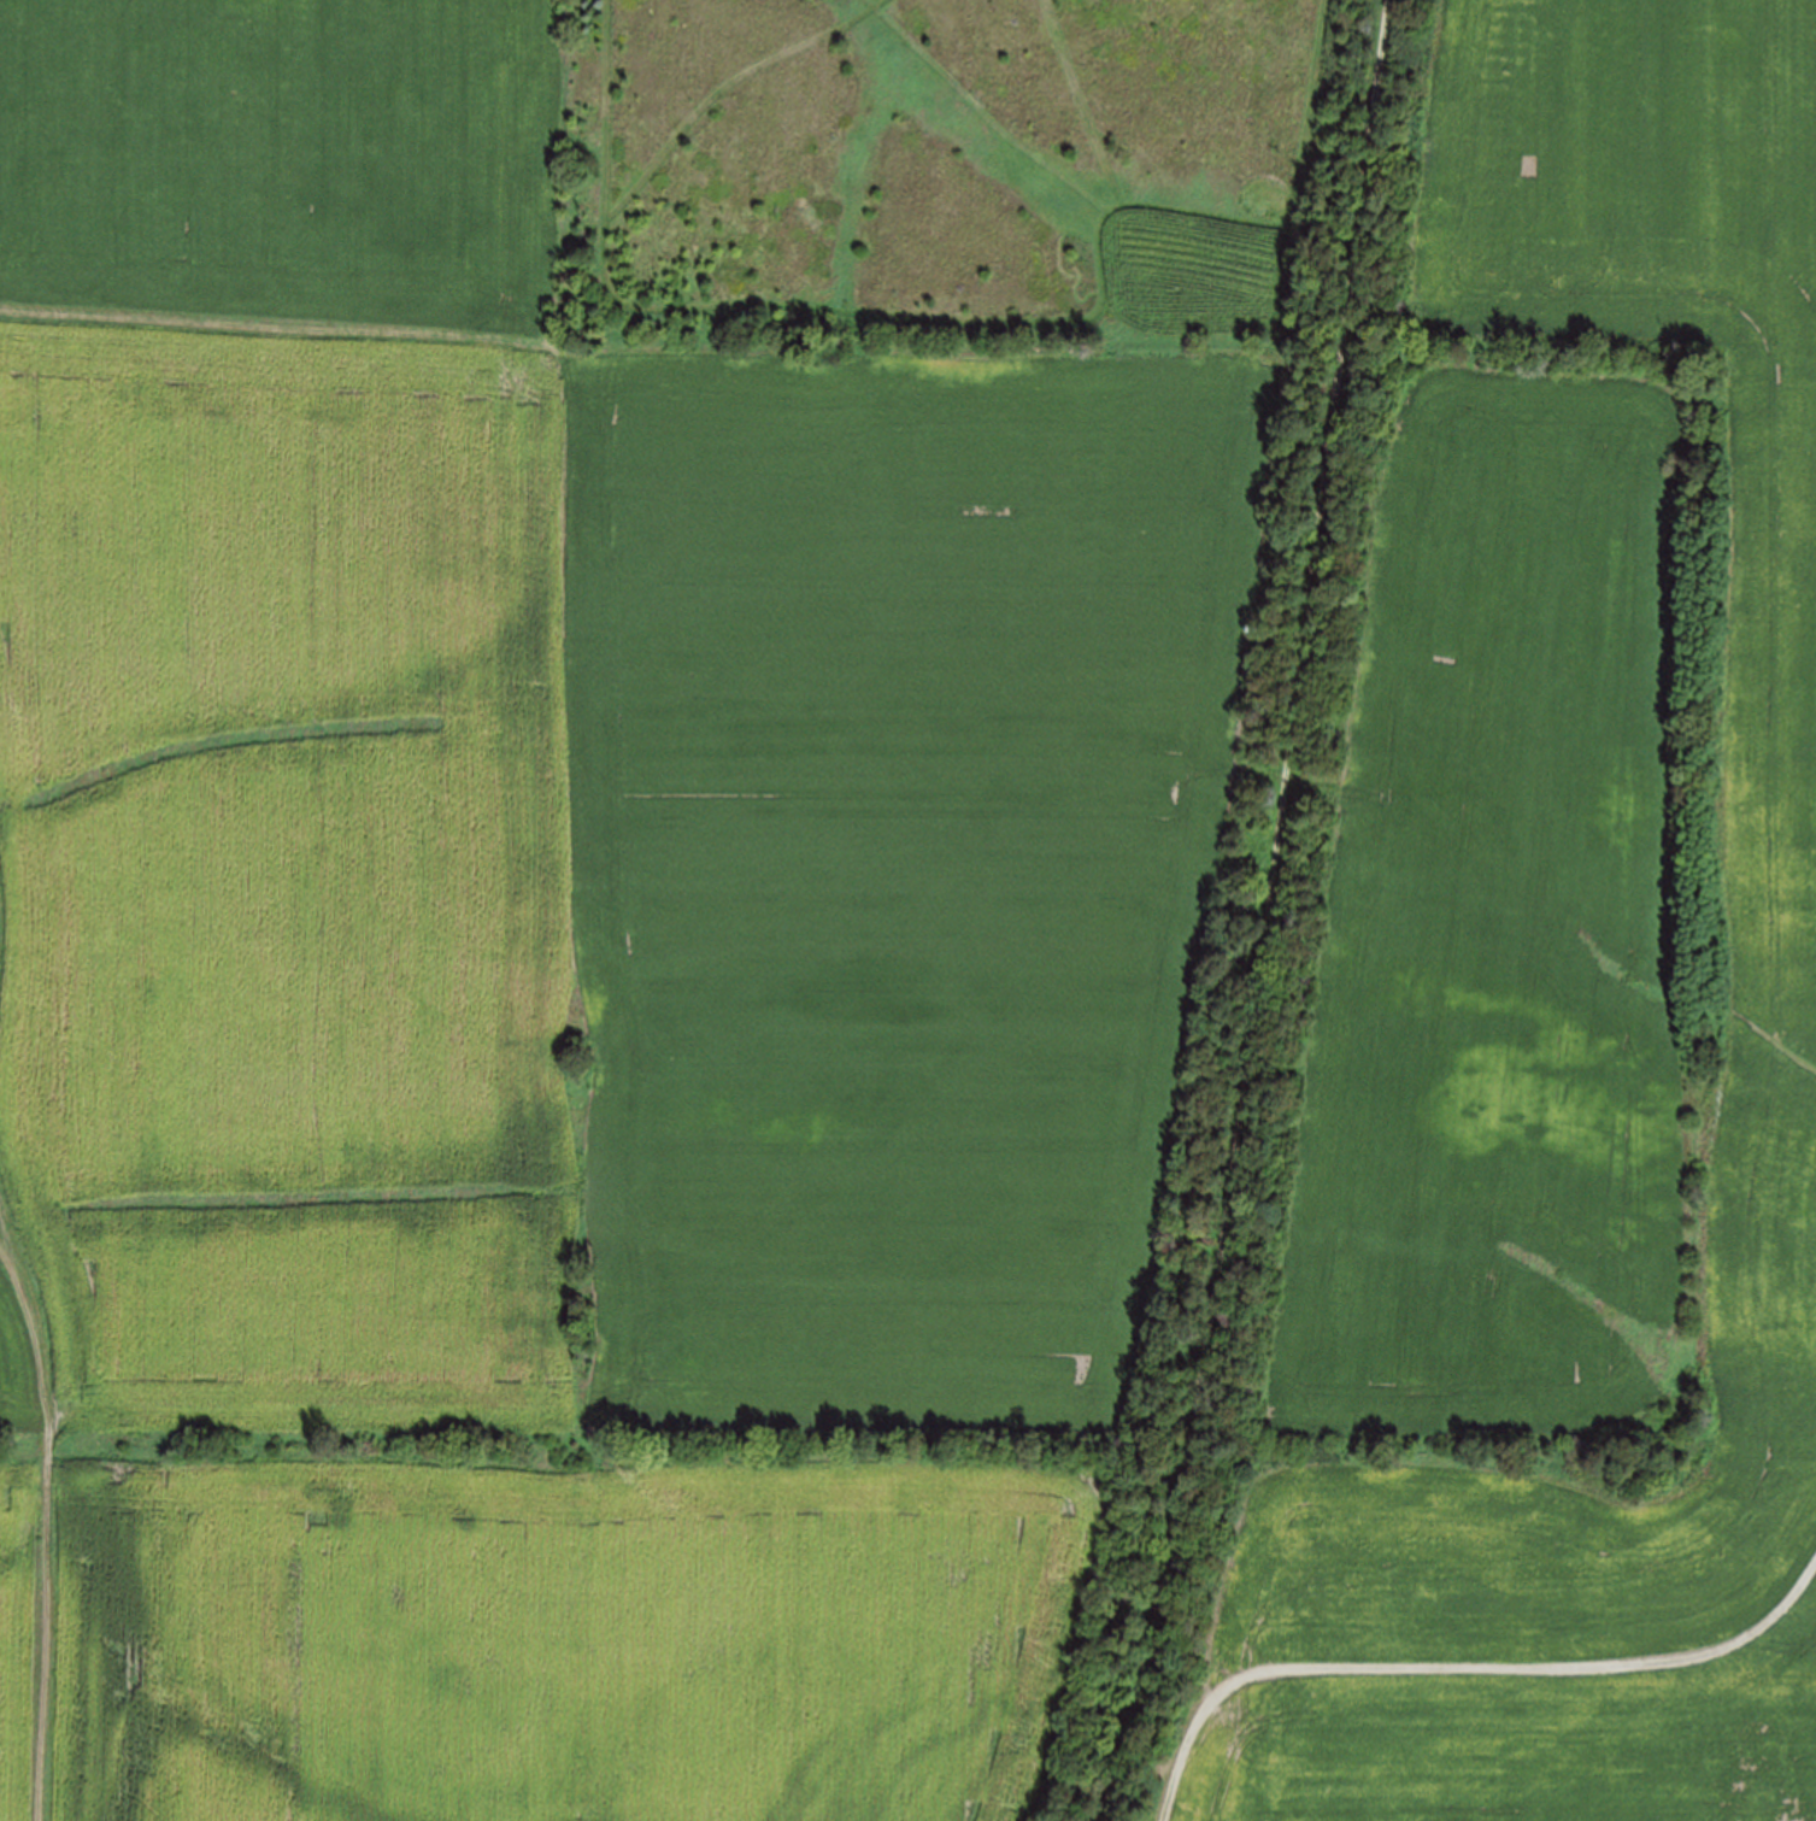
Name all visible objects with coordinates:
road: (277, 325)
road: (1264, 915)
road: (54, 1502)

